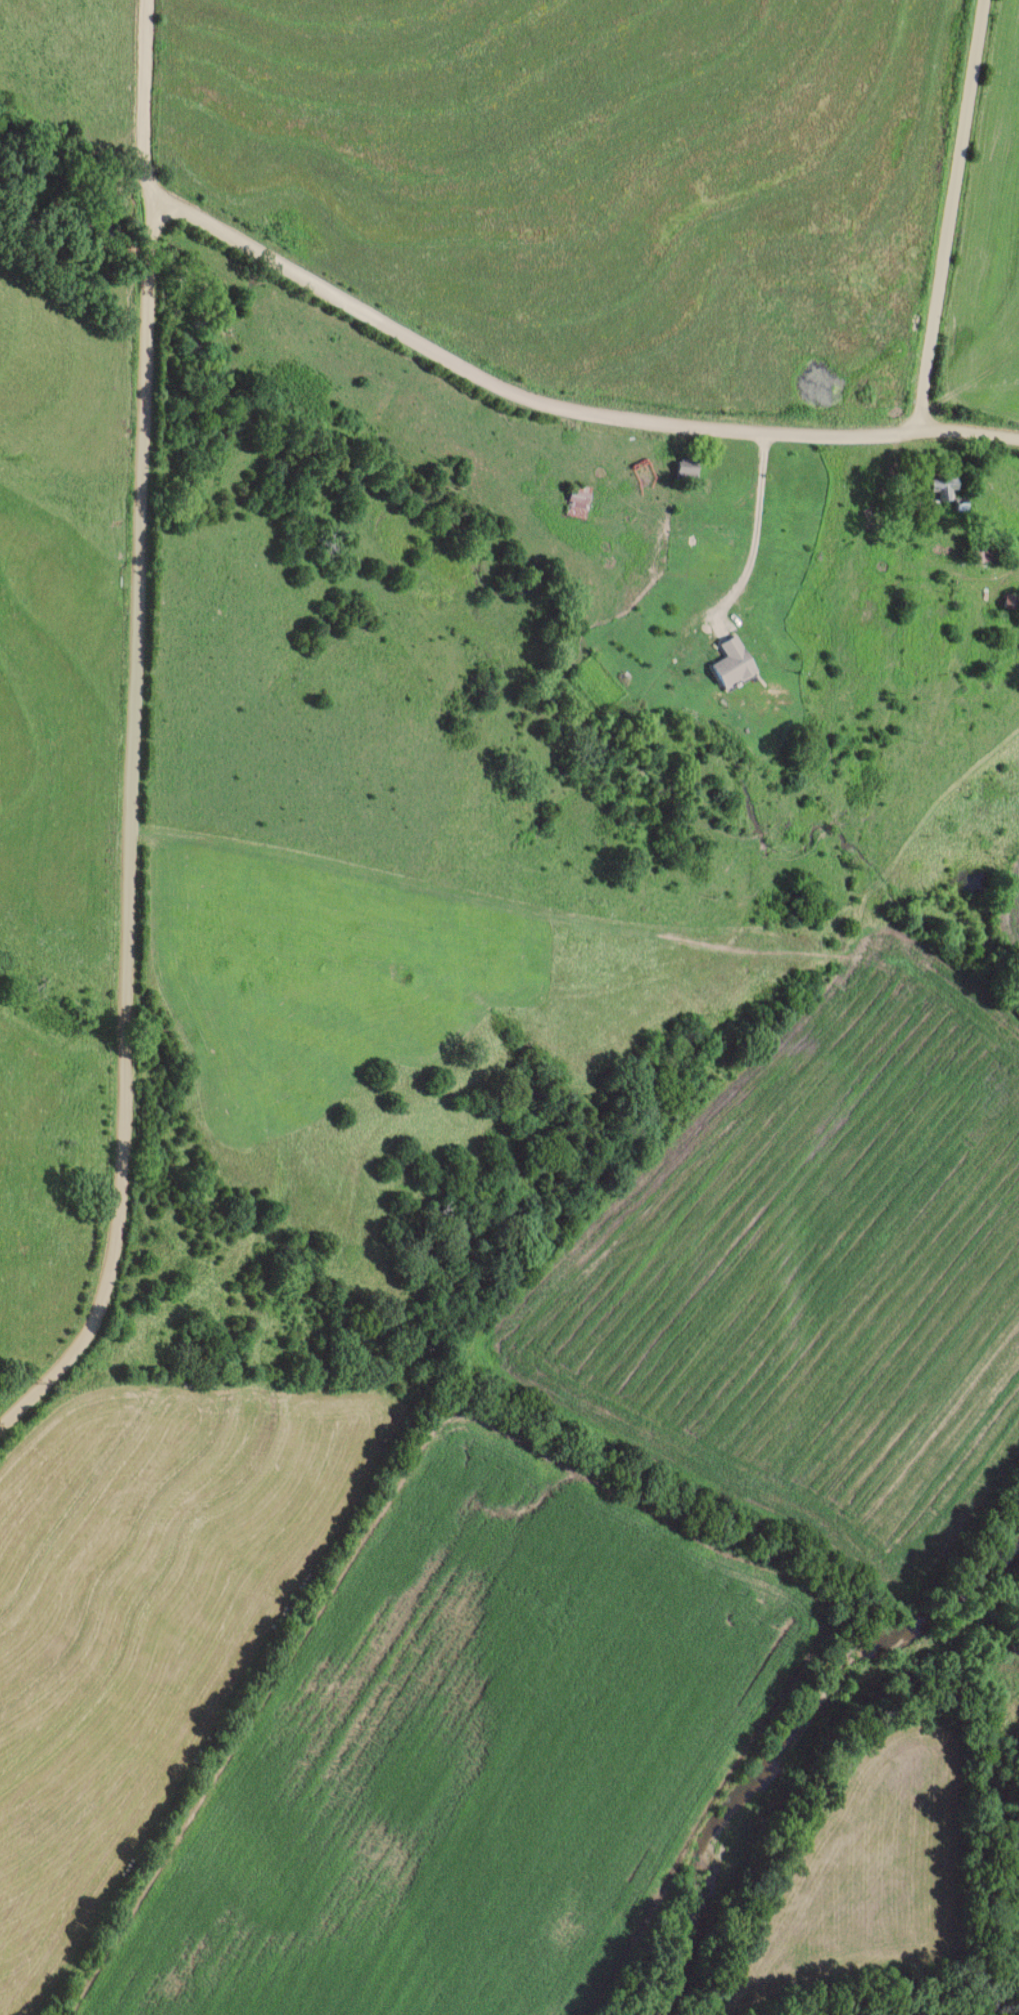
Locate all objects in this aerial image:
road: (159, 110)
road: (959, 210)
road: (568, 408)
building: (686, 469)
building: (939, 490)
building: (579, 498)
road: (751, 521)
building: (984, 552)
building: (729, 663)
road: (136, 845)

